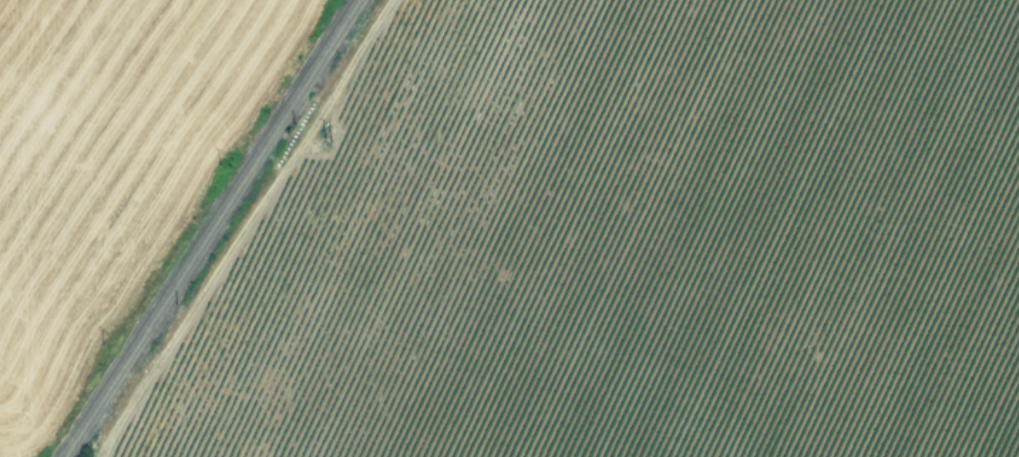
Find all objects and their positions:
crop: (115, 171)
railway: (206, 228)
crop: (657, 244)

